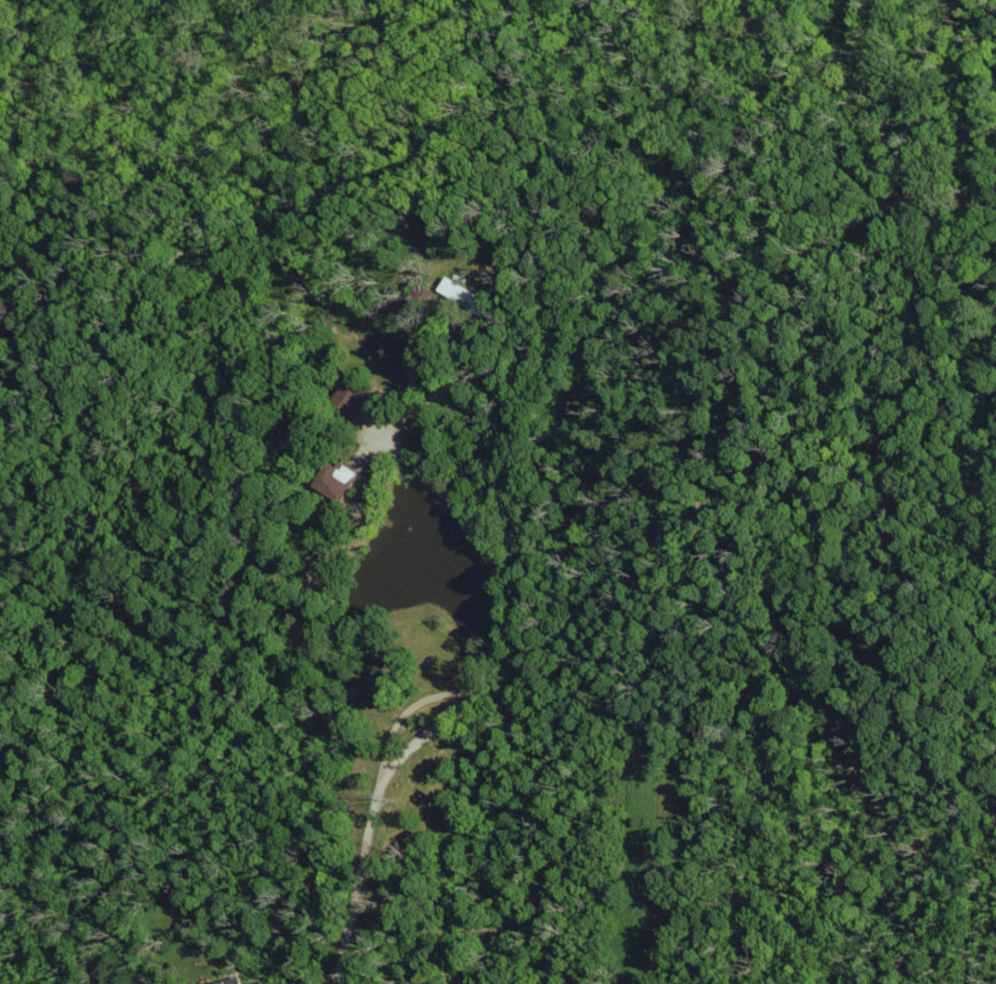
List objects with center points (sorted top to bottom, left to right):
building: (468, 293)
building: (335, 478)
road: (516, 690)
building: (238, 981)

